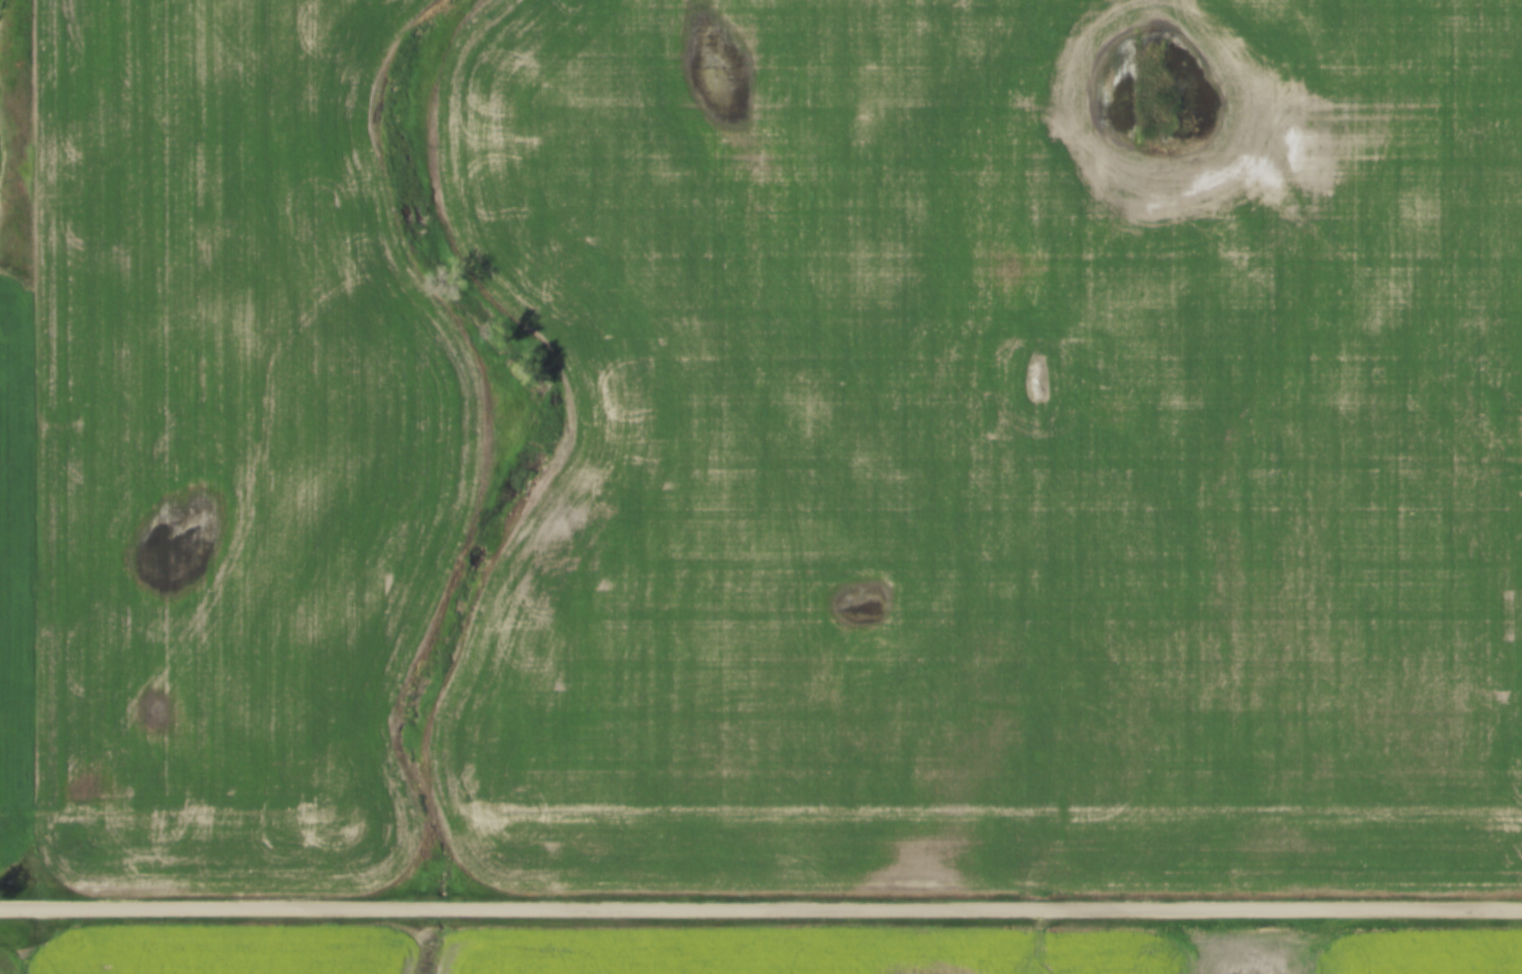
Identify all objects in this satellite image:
road: (761, 907)

